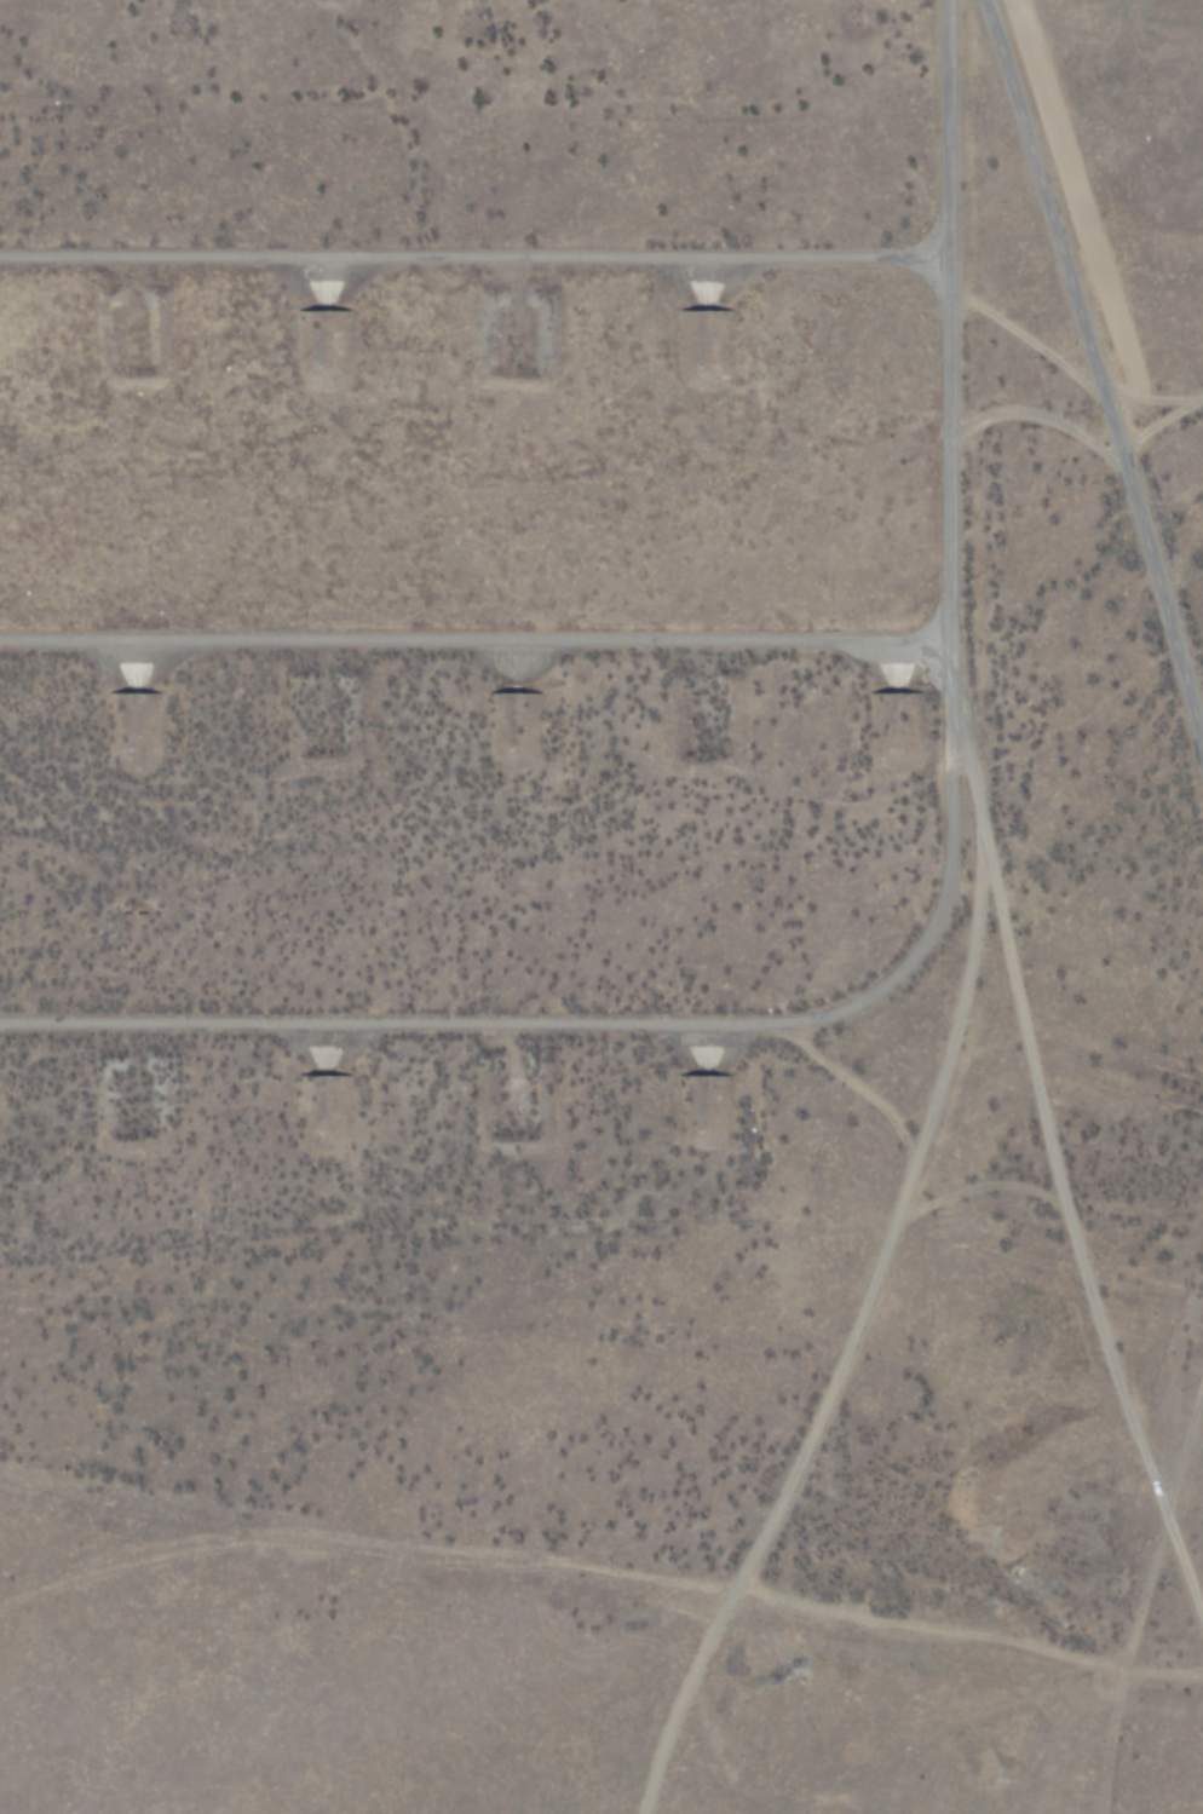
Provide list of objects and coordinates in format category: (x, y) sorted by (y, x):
road: (464, 231)
road: (928, 311)
road: (1082, 393)
road: (960, 773)

